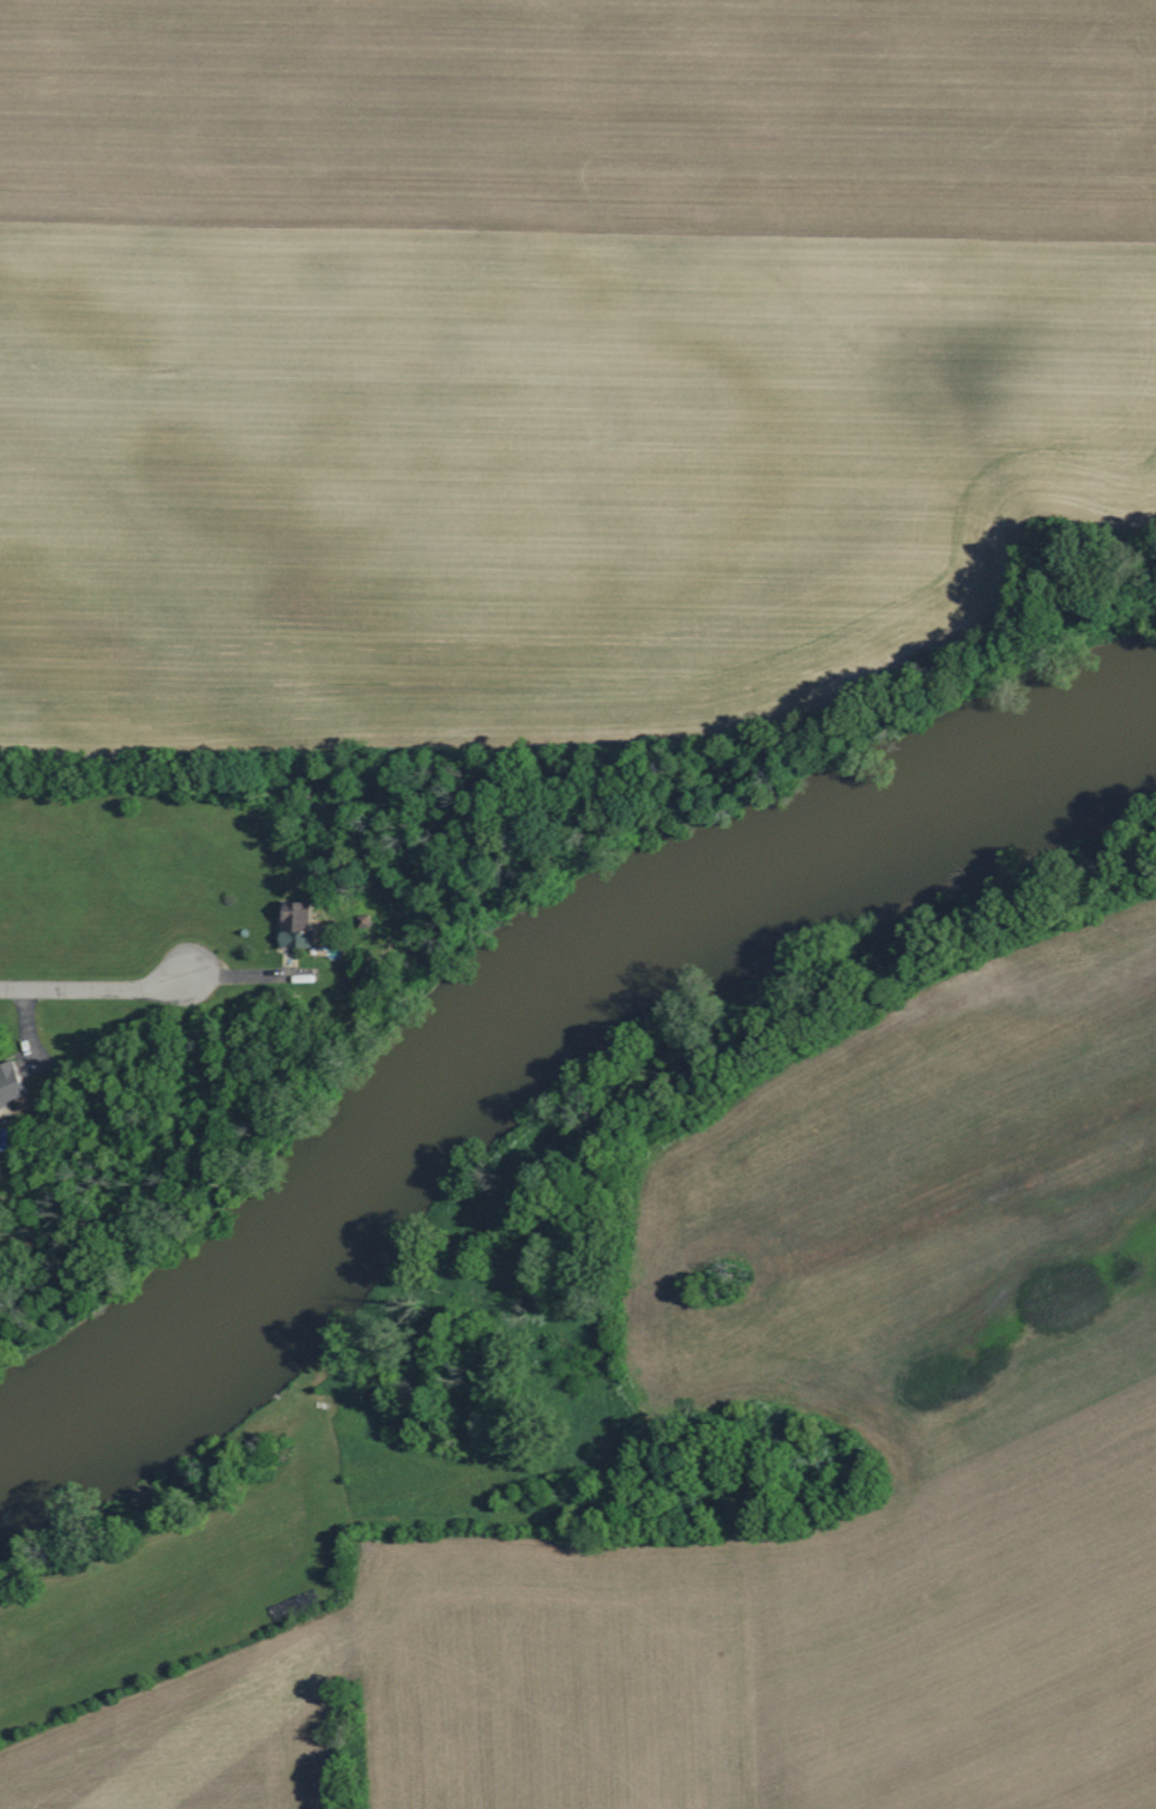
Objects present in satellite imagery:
building: (303, 925)
road: (96, 987)
river: (544, 1056)
building: (12, 1084)
road: (777, 1675)

